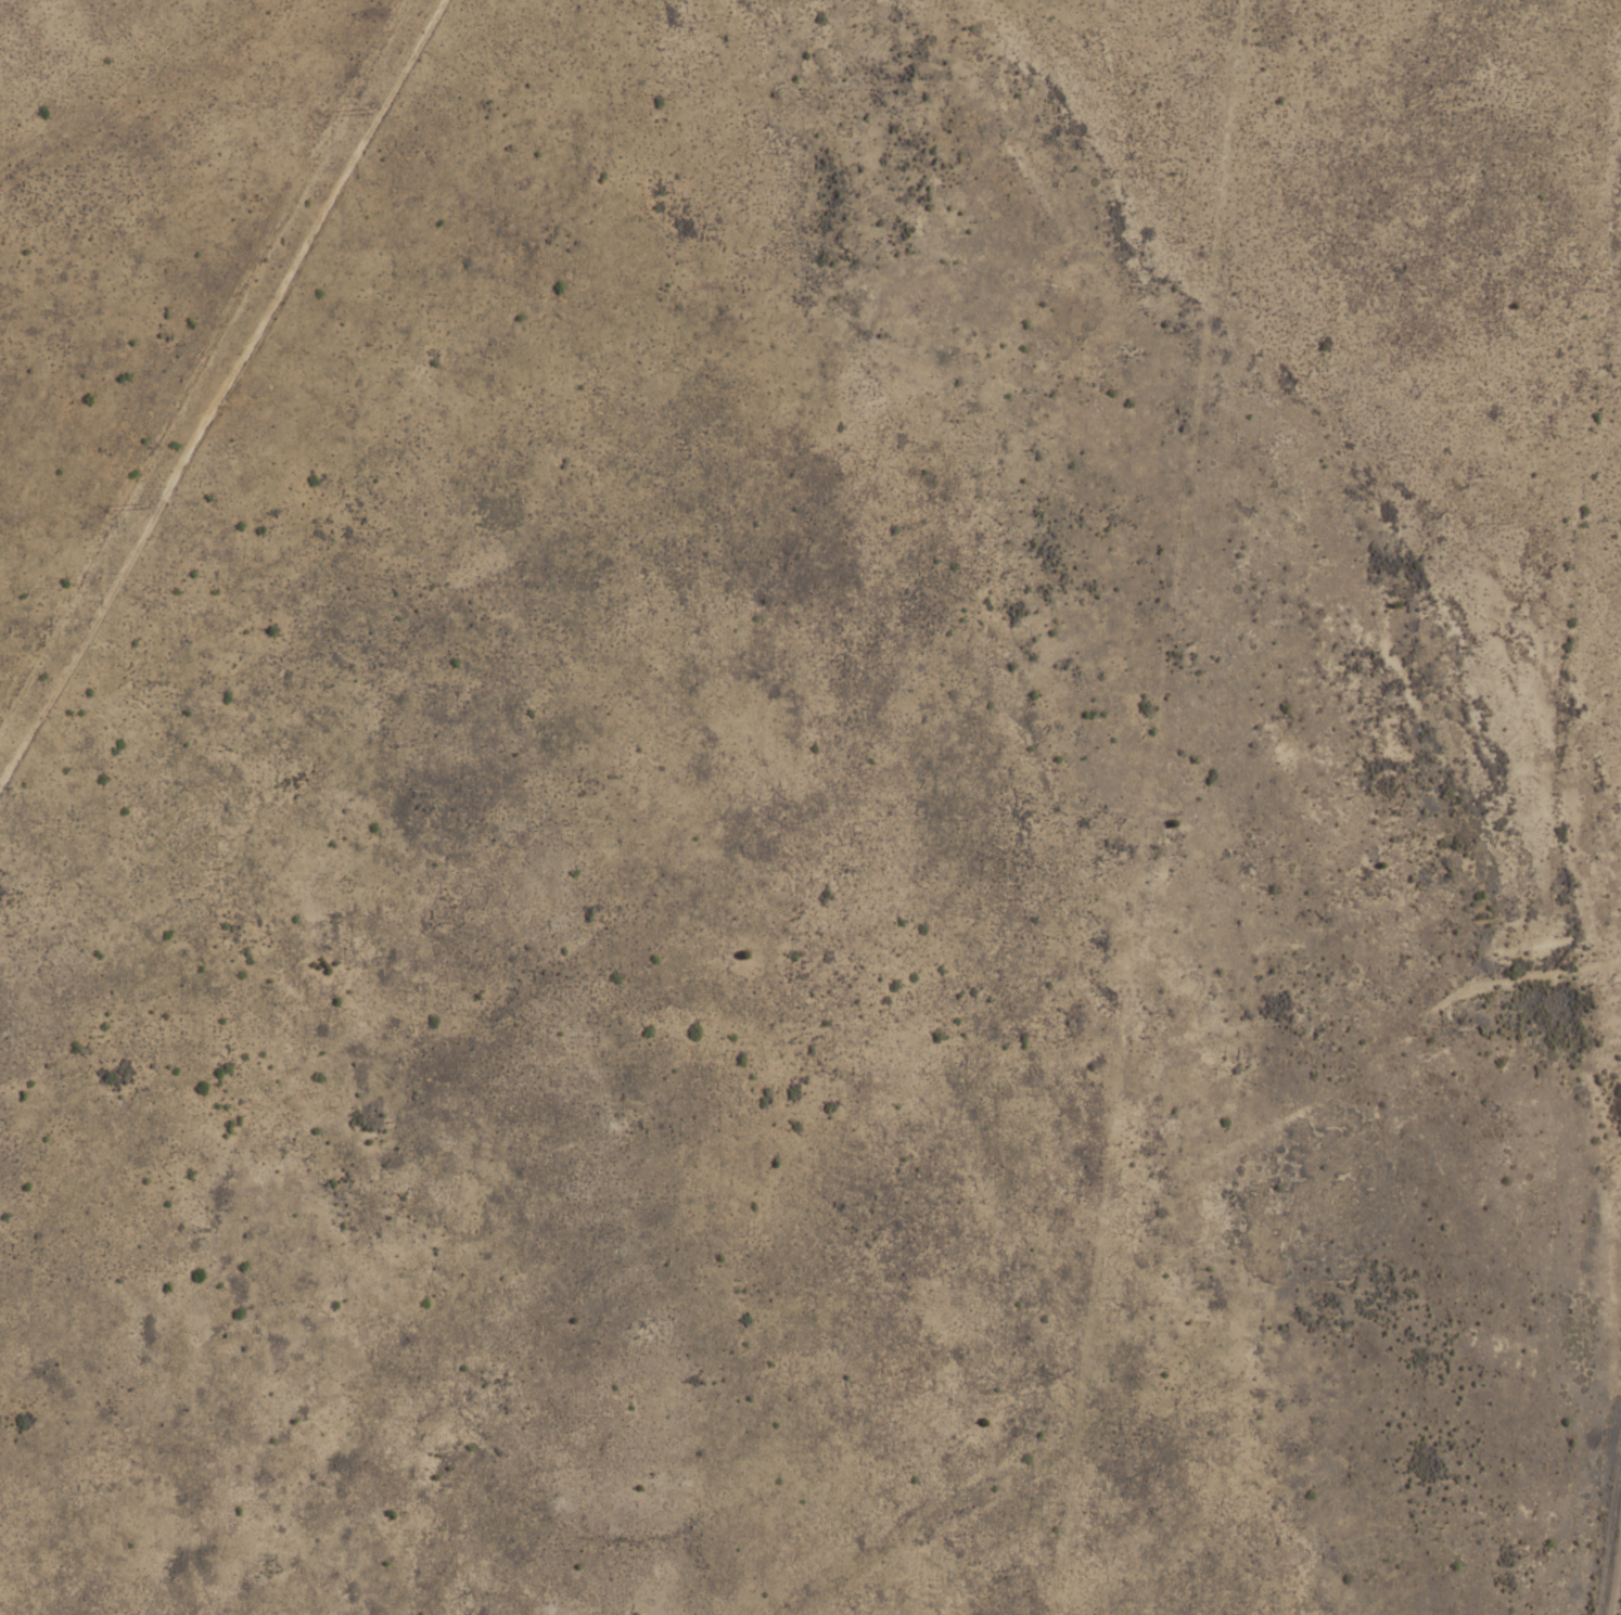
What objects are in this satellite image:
aerialway pylon: (369, 112)
road: (216, 393)
aerialway pylon: (146, 503)
road: (1149, 807)
road: (1617, 1582)

